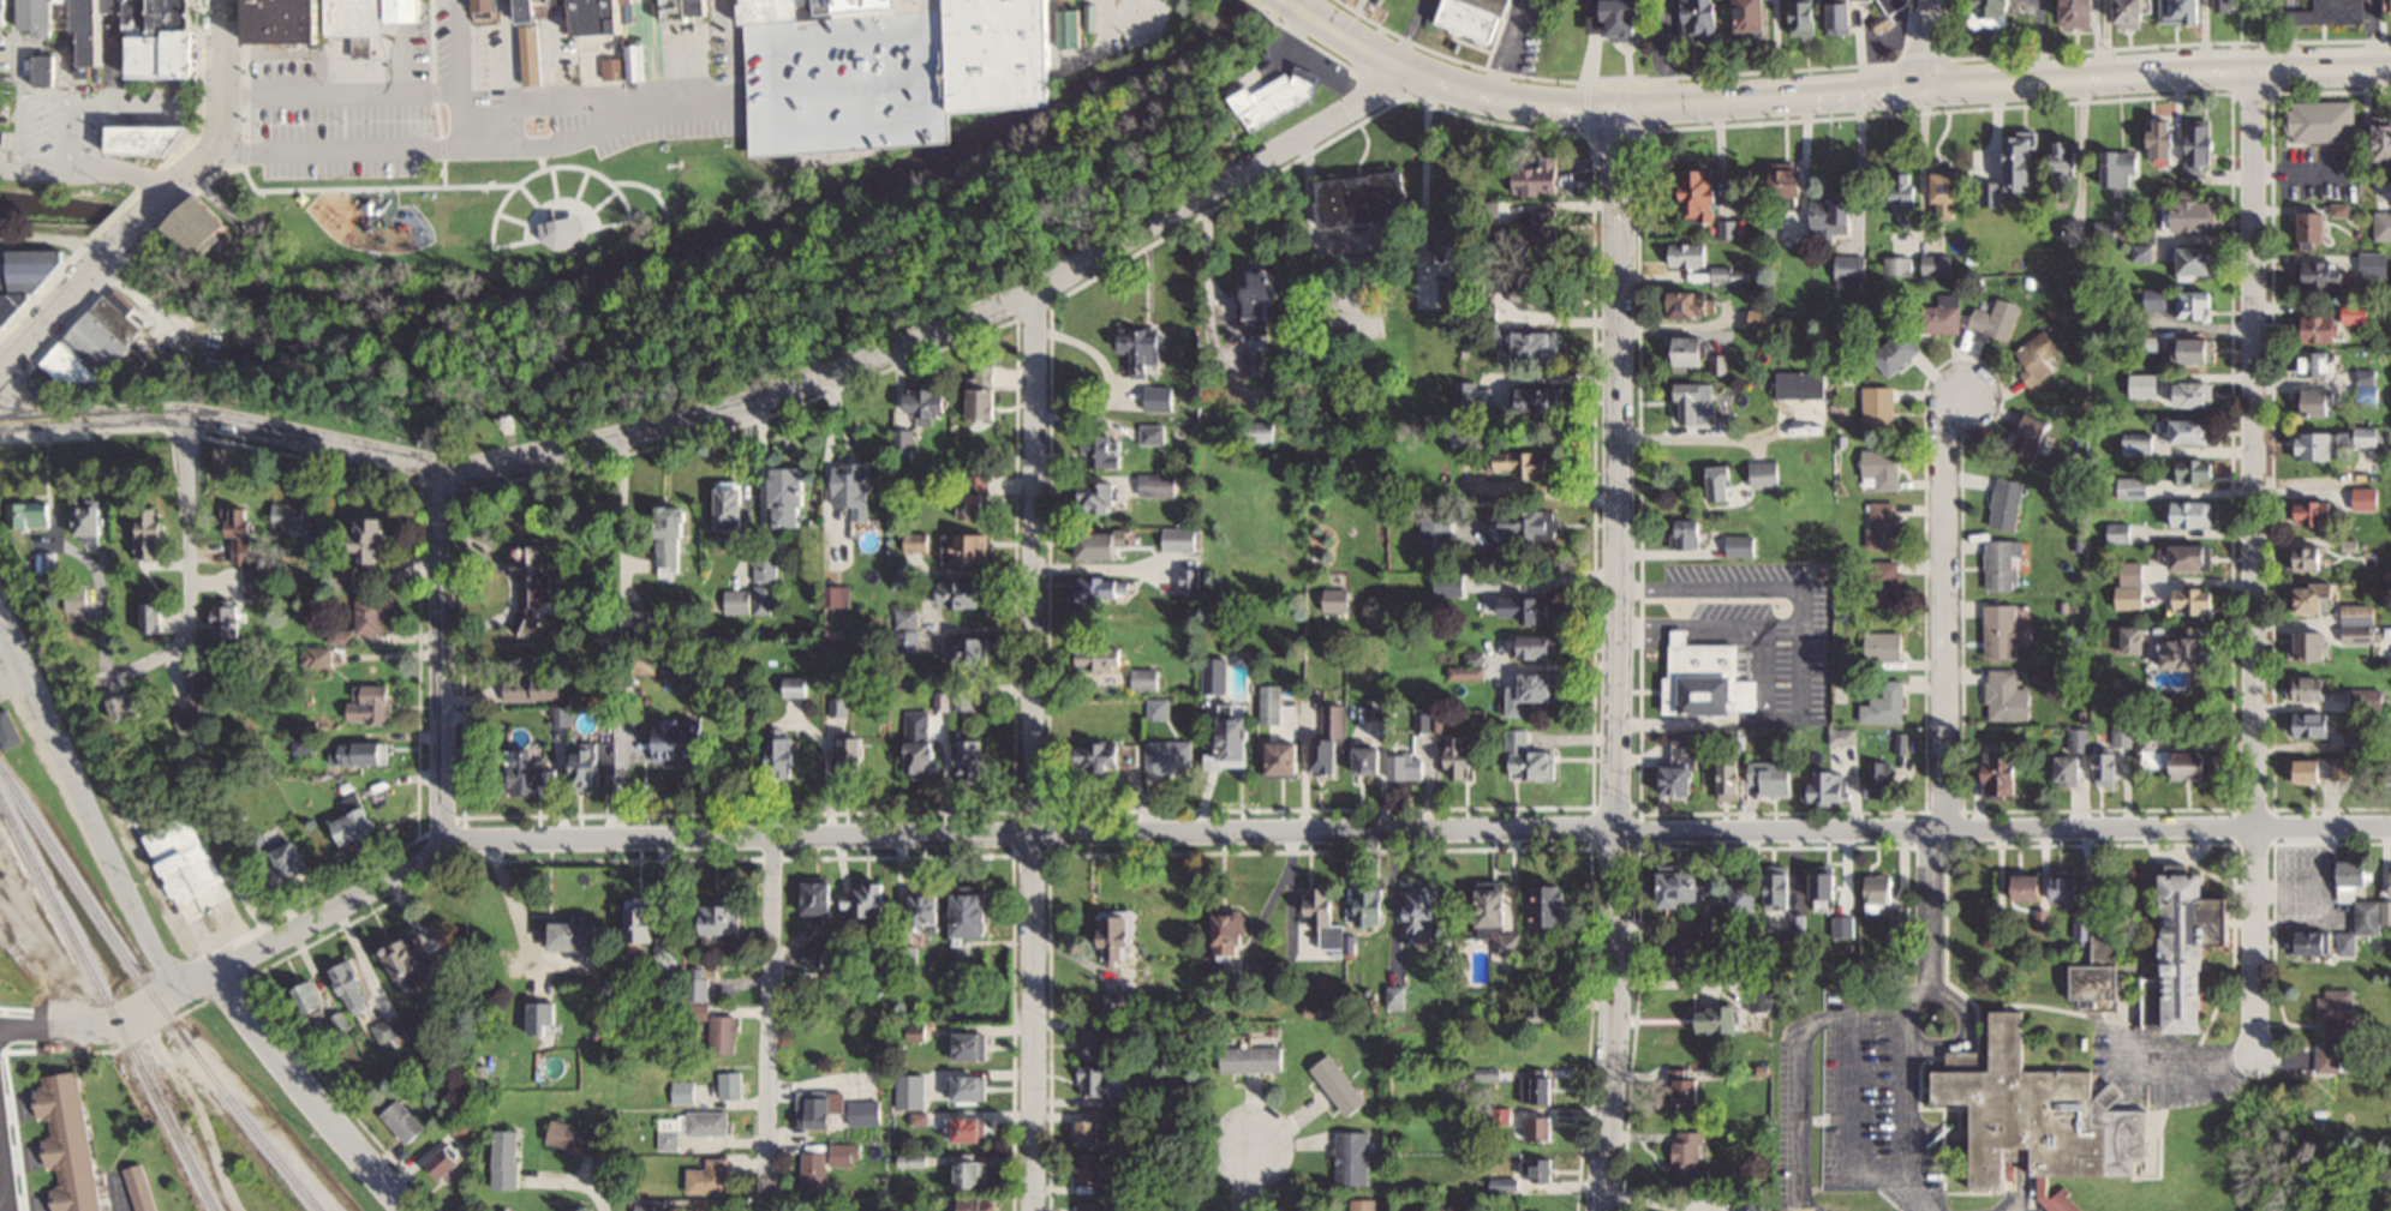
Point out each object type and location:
building: (1896, 4)
building: (486, 5)
building: (687, 8)
building: (5, 11)
building: (408, 11)
building: (2182, 11)
building: (2326, 12)
park: (1379, 13)
building: (1995, 13)
building: (2082, 13)
building: (2134, 13)
road: (1355, 14)
building: (138, 16)
building: (1843, 16)
building: (43, 17)
building: (1756, 17)
building: (1804, 17)
building: (1471, 18)
building: (1633, 19)
building: (1700, 19)
building: (323, 22)
building: (1080, 25)
road: (922, 26)
building: (96, 31)
road: (1356, 36)
building: (173, 42)
road: (1926, 44)
building: (784, 47)
building: (1008, 54)
building: (532, 59)
building: (626, 64)
building: (47, 68)
road: (2156, 72)
building: (1280, 94)
road: (1770, 97)
road: (1513, 100)
road: (225, 109)
building: (2323, 120)
road: (618, 139)
building: (2384, 139)
building: (151, 140)
building: (2164, 140)
building: (2201, 142)
road: (410, 146)
building: (2066, 155)
building: (2021, 162)
road: (89, 166)
building: (2121, 169)
road: (83, 175)
building: (1542, 178)
building: (1787, 180)
road: (640, 182)
building: (1704, 194)
building: (1950, 194)
building: (1367, 199)
building: (1903, 199)
road: (662, 200)
park: (480, 210)
building: (2196, 215)
building: (1833, 217)
building: (1764, 226)
building: (2383, 226)
building: (2317, 227)
building: (209, 228)
building: (1727, 228)
road: (124, 233)
building: (1548, 238)
road: (675, 245)
building: (1451, 247)
building: (1690, 254)
river: (639, 258)
building: (2198, 262)
building: (1938, 264)
building: (2373, 264)
road: (706, 265)
building: (1897, 265)
building: (1851, 271)
building: (2330, 271)
building: (1729, 274)
building: (26, 282)
park: (754, 284)
building: (1451, 290)
building: (1542, 294)
building: (1271, 296)
building: (2159, 299)
building: (1694, 305)
building: (2199, 305)
building: (1942, 316)
building: (1762, 317)
building: (1997, 318)
road: (42, 320)
building: (2321, 329)
building: (97, 338)
building: (1536, 346)
building: (1142, 348)
building: (2199, 350)
building: (1895, 352)
building: (1699, 354)
building: (2037, 358)
building: (246, 360)
building: (1253, 362)
building: (2318, 364)
building: (1801, 384)
building: (2146, 385)
building: (2367, 385)
building: (1464, 394)
building: (2198, 395)
building: (928, 402)
building: (1534, 402)
building: (1699, 402)
building: (2315, 402)
building: (986, 403)
road: (740, 406)
building: (1878, 407)
building: (1259, 431)
building: (2195, 431)
building: (1152, 433)
building: (2031, 436)
building: (2368, 437)
building: (2141, 443)
building: (2318, 446)
building: (1102, 451)
building: (1528, 463)
building: (1881, 469)
building: (2198, 472)
building: (1765, 474)
building: (1156, 484)
building: (1722, 484)
building: (2134, 487)
building: (855, 490)
building: (972, 496)
building: (1095, 497)
building: (2362, 498)
building: (791, 499)
building: (2007, 503)
building: (733, 505)
building: (2307, 511)
building: (2194, 514)
building: (288, 515)
building: (43, 516)
building: (96, 518)
building: (1529, 523)
building: (1884, 527)
building: (1435, 532)
building: (153, 533)
building: (1688, 534)
building: (677, 535)
building: (372, 539)
building: (839, 539)
building: (1180, 539)
building: (311, 545)
building: (1105, 545)
building: (1741, 546)
building: (968, 550)
building: (249, 554)
building: (2301, 556)
building: (2176, 557)
road: (2255, 557)
road: (185, 564)
building: (739, 564)
building: (2003, 564)
building: (765, 569)
building: (337, 576)
building: (1192, 581)
building: (532, 583)
building: (1448, 583)
building: (1885, 583)
building: (2154, 592)
building: (1104, 593)
building: (964, 595)
building: (836, 596)
building: (2302, 596)
building: (85, 599)
building: (761, 599)
building: (1337, 600)
building: (737, 601)
road: (1943, 607)
building: (1520, 609)
building: (371, 612)
building: (155, 618)
building: (225, 622)
building: (2354, 623)
building: (908, 630)
building: (2003, 630)
building: (2124, 634)
building: (336, 636)
building: (1884, 645)
building: (2301, 645)
building: (1542, 647)
building: (972, 652)
building: (316, 657)
building: (2178, 657)
road: (443, 658)
building: (1101, 658)
road: (1619, 658)
building: (1208, 677)
building: (1146, 679)
building: (1708, 679)
building: (797, 685)
building: (203, 687)
building: (533, 688)
building: (2299, 688)
building: (1535, 691)
building: (2004, 695)
building: (1269, 703)
building: (1887, 703)
building: (372, 705)
building: (838, 705)
building: (138, 706)
building: (1373, 708)
building: (192, 719)
building: (2302, 724)
building: (2120, 732)
building: (1236, 735)
building: (1842, 736)
building: (1329, 737)
building: (681, 738)
building: (2351, 739)
building: (300, 743)
building: (782, 751)
road: (1034, 751)
building: (358, 754)
building: (854, 754)
building: (1107, 755)
building: (1168, 755)
building: (1287, 756)
building: (925, 757)
building: (1371, 757)
building: (1462, 757)
building: (976, 759)
building: (1530, 759)
building: (1406, 763)
building: (2175, 763)
building: (587, 767)
building: (1682, 767)
building: (2100, 767)
building: (2058, 768)
building: (2313, 768)
building: (2381, 768)
building: (530, 773)
building: (1773, 775)
building: (2001, 775)
building: (1732, 779)
building: (1878, 780)
building: (1827, 786)
road: (86, 802)
building: (358, 827)
road: (2003, 828)
road: (784, 837)
building: (289, 858)
building: (186, 859)
building: (2385, 881)
building: (1827, 882)
building: (1685, 885)
building: (1782, 888)
building: (2341, 889)
building: (1878, 891)
building: (820, 895)
building: (1743, 897)
building: (871, 904)
building: (1370, 904)
building: (1553, 904)
building: (1499, 905)
building: (931, 906)
building: (1423, 909)
building: (975, 911)
building: (1326, 913)
building: (725, 917)
building: (1842, 925)
building: (2079, 929)
building: (575, 933)
building: (1120, 934)
building: (657, 935)
building: (1696, 941)
building: (2303, 941)
building: (1229, 942)
building: (2171, 948)
railway: (5, 952)
building: (817, 955)
building: (408, 963)
building: (352, 985)
building: (699, 988)
building: (313, 997)
building: (1399, 1000)
railway: (104, 1007)
road: (1846, 1009)
road: (769, 1015)
building: (544, 1017)
building: (1716, 1019)
building: (389, 1029)
building: (2330, 1029)
building: (724, 1032)
road: (1951, 1041)
building: (1092, 1042)
building: (972, 1044)
building: (1251, 1057)
road: (2186, 1060)
building: (1094, 1079)
building: (728, 1083)
building: (1339, 1084)
building: (970, 1086)
building: (1684, 1086)
building: (1537, 1089)
building: (681, 1090)
road: (310, 1095)
building: (819, 1108)
building: (865, 1110)
building: (2043, 1111)
building: (405, 1120)
building: (689, 1126)
building: (1093, 1127)
building: (970, 1128)
building: (1543, 1128)
building: (576, 1137)
building: (70, 1141)
building: (845, 1153)
building: (1353, 1156)
building: (503, 1158)
building: (1690, 1159)
building: (447, 1161)
building: (1098, 1168)
building: (1536, 1168)
building: (814, 1170)
building: (975, 1173)
building: (709, 1176)
road: (1248, 1177)
road: (574, 1180)
road: (4, 1185)
building: (142, 1187)
building: (2066, 1201)
building: (981, 1203)
building: (1361, 1204)
building: (644, 1207)
building: (1093, 1207)
building: (507, 1209)
road: (4, 1210)

